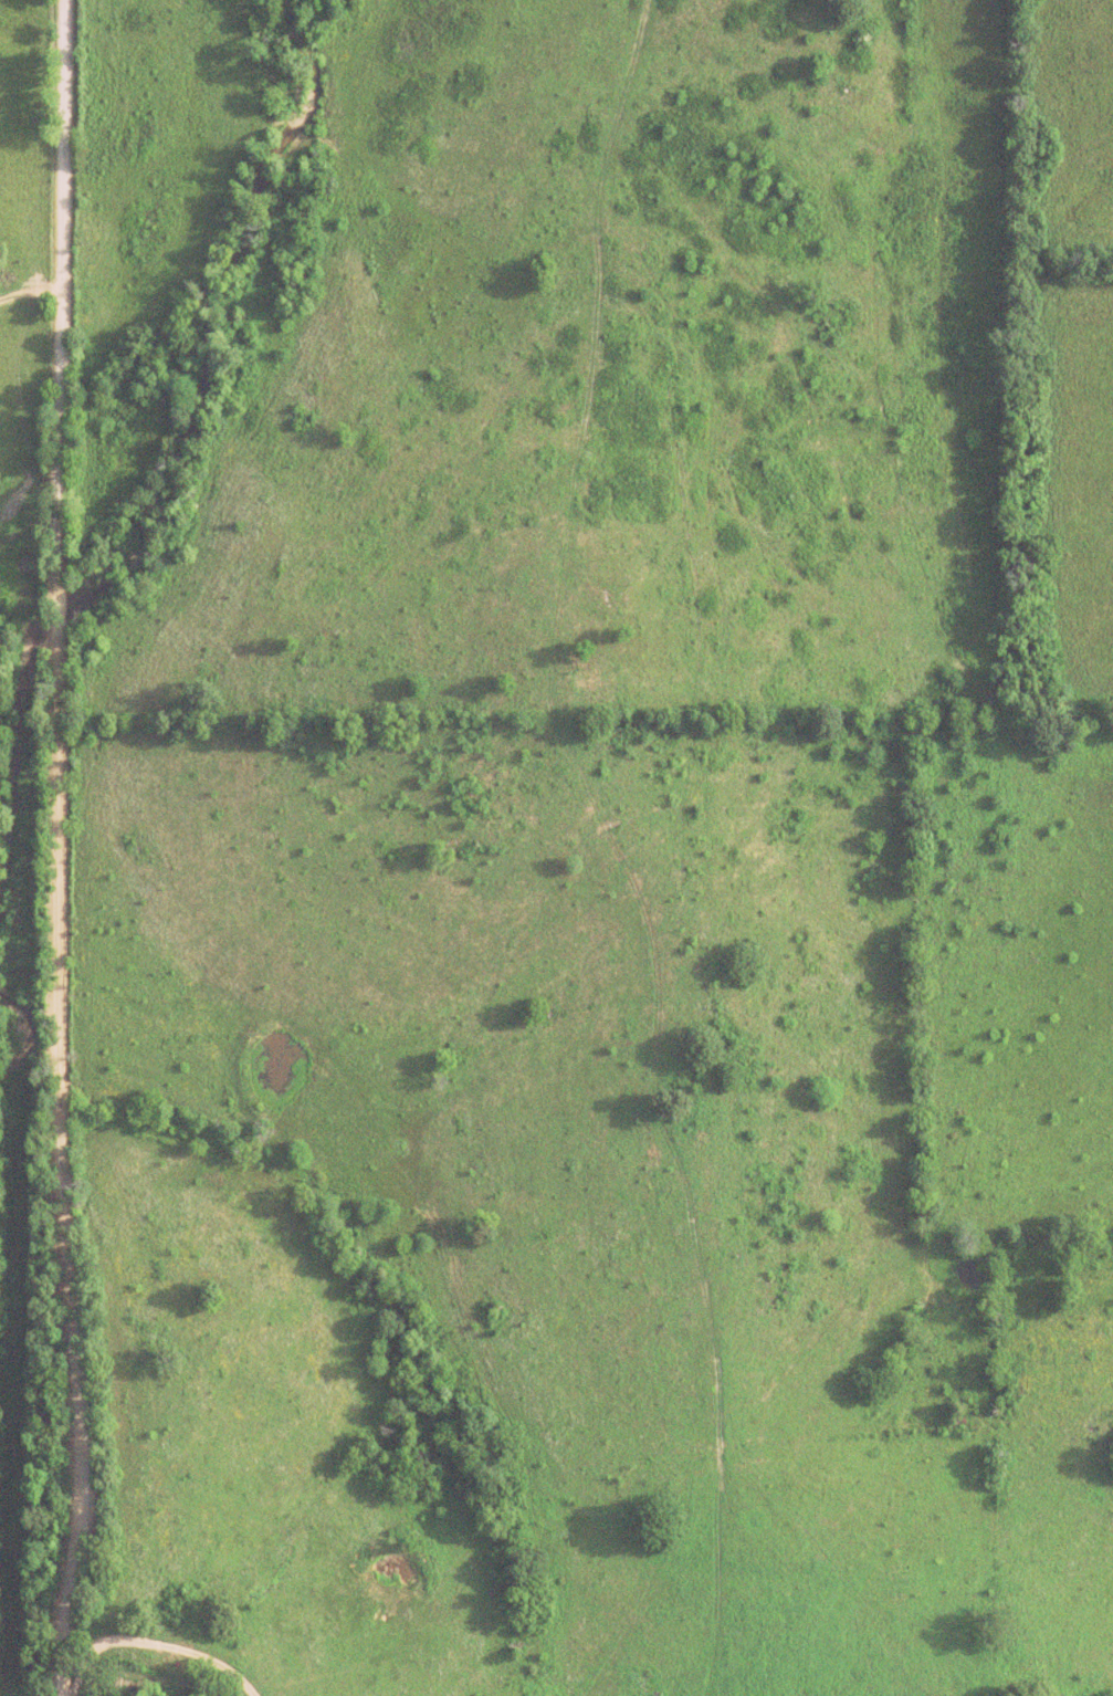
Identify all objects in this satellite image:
road: (55, 849)

